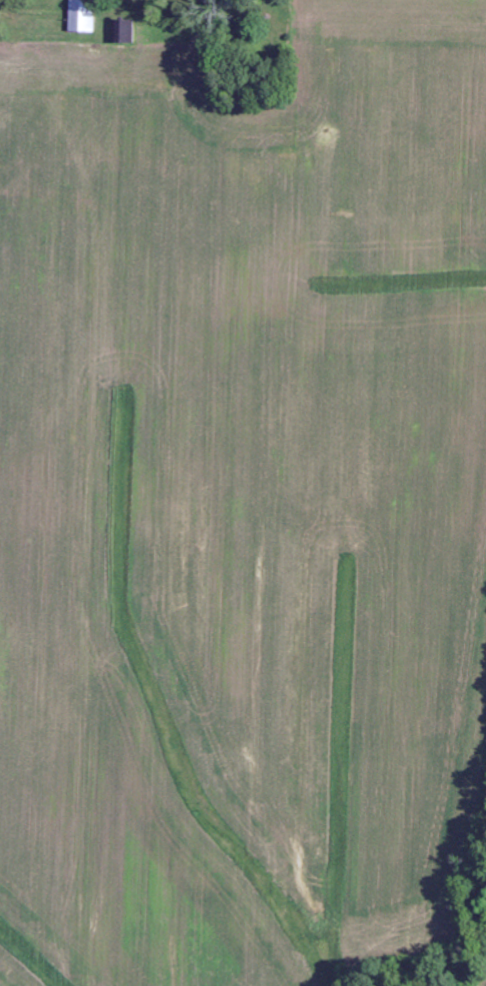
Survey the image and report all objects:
building: (82, 15)
building: (125, 30)

